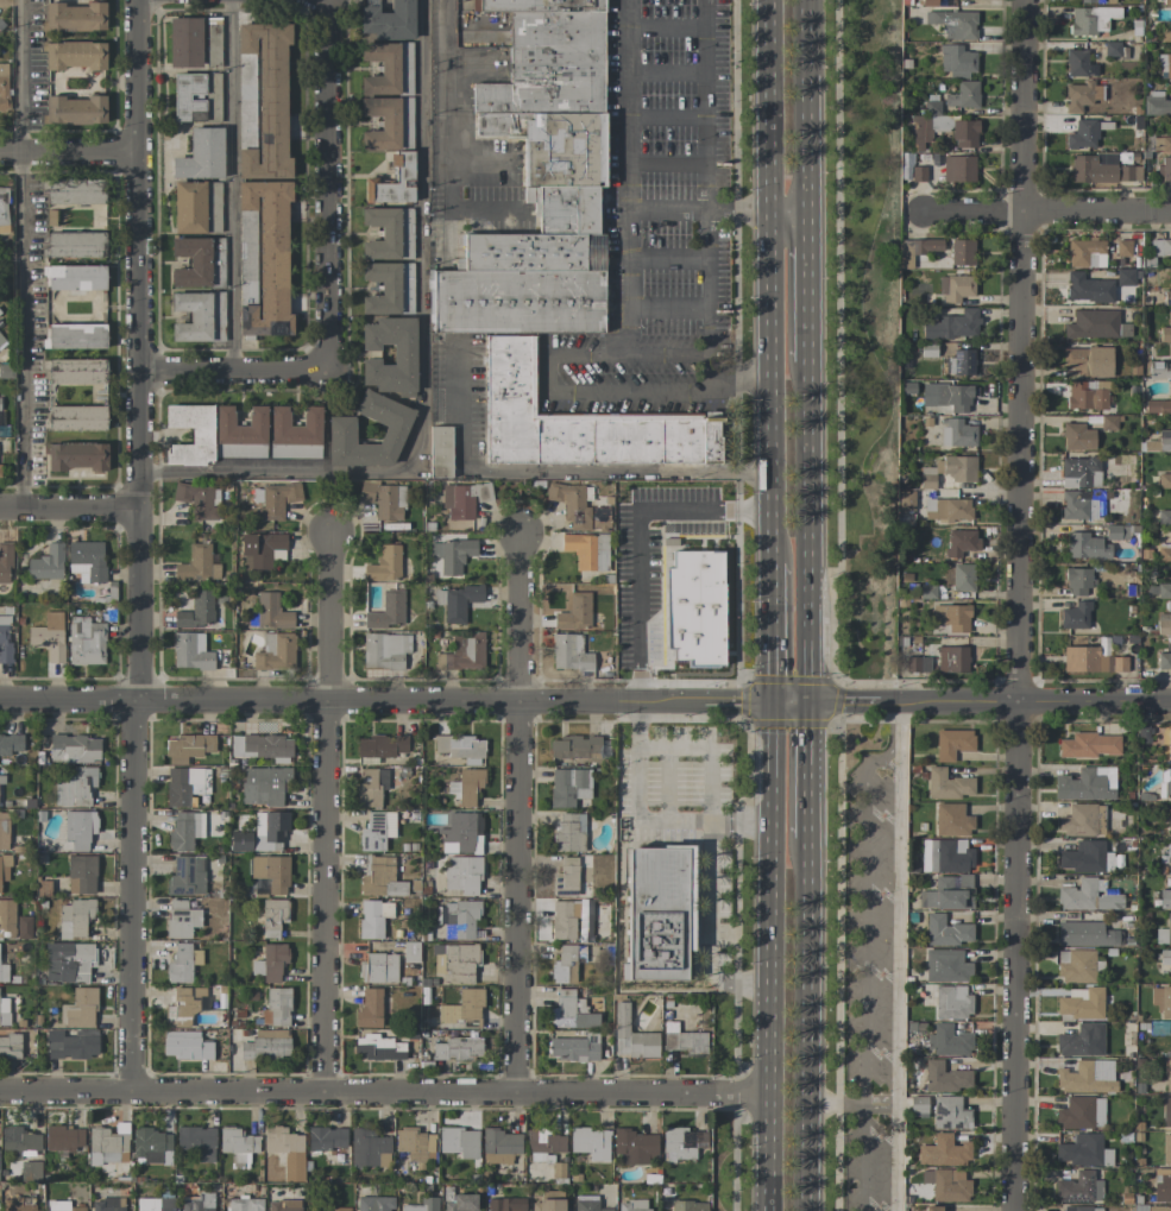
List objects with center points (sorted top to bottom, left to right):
building: (1097, 1)
building: (1166, 1)
building: (928, 2)
building: (73, 17)
building: (1091, 19)
building: (445, 20)
building: (386, 21)
building: (953, 24)
building: (1166, 34)
building: (182, 42)
building: (73, 55)
building: (956, 59)
building: (1078, 63)
building: (1165, 65)
building: (388, 69)
building: (4, 87)
building: (963, 95)
building: (1081, 95)
building: (187, 97)
building: (212, 97)
building: (262, 101)
building: (1156, 103)
road: (769, 106)
road: (808, 107)
building: (74, 111)
building: (388, 122)
building: (925, 125)
building: (964, 133)
building: (1082, 135)
road: (706, 138)
road: (445, 143)
building: (1161, 144)
road: (68, 151)
building: (200, 156)
building: (403, 164)
building: (1096, 166)
building: (958, 169)
building: (1164, 169)
building: (1128, 174)
road: (625, 178)
building: (539, 183)
road: (328, 184)
road: (232, 185)
building: (74, 191)
building: (188, 207)
building: (4, 210)
road: (1046, 210)
road: (789, 213)
building: (386, 233)
building: (75, 245)
building: (1123, 247)
building: (1160, 247)
building: (917, 250)
building: (962, 252)
road: (19, 253)
building: (1085, 253)
building: (267, 257)
building: (246, 259)
building: (197, 263)
building: (74, 277)
building: (1125, 277)
road: (707, 284)
building: (955, 288)
building: (1088, 288)
building: (388, 289)
road: (808, 289)
building: (199, 316)
building: (1095, 324)
building: (953, 326)
park: (870, 333)
building: (76, 336)
building: (1, 339)
road: (138, 349)
building: (403, 353)
road: (667, 357)
building: (961, 361)
building: (1088, 361)
road: (423, 368)
building: (1159, 370)
road: (234, 371)
building: (75, 372)
road: (726, 381)
road: (770, 387)
road: (574, 393)
building: (1087, 395)
building: (947, 396)
building: (1158, 406)
building: (77, 417)
building: (577, 422)
building: (240, 433)
building: (956, 433)
building: (190, 434)
building: (295, 434)
building: (339, 435)
building: (1077, 437)
building: (1164, 440)
building: (439, 452)
building: (74, 456)
building: (956, 467)
road: (555, 469)
building: (1077, 471)
building: (1164, 480)
building: (199, 499)
building: (384, 499)
building: (462, 499)
building: (277, 500)
building: (905, 500)
building: (572, 503)
road: (69, 506)
building: (1076, 506)
building: (947, 509)
building: (1116, 532)
road: (808, 534)
road: (637, 537)
building: (961, 542)
building: (1087, 547)
building: (258, 549)
building: (580, 549)
building: (602, 551)
building: (451, 556)
building: (87, 561)
building: (5, 562)
building: (46, 563)
building: (196, 564)
building: (384, 564)
building: (962, 578)
building: (1078, 581)
building: (455, 601)
road: (1019, 605)
building: (694, 607)
building: (197, 611)
building: (386, 611)
building: (272, 612)
building: (574, 612)
building: (1075, 616)
road: (328, 617)
building: (952, 617)
building: (1164, 624)
road: (770, 633)
building: (48, 636)
building: (5, 639)
building: (86, 642)
building: (384, 650)
building: (190, 651)
building: (275, 651)
building: (462, 652)
building: (569, 652)
building: (952, 658)
building: (1093, 658)
building: (1164, 662)
building: (917, 664)
road: (385, 701)
road: (988, 702)
traffic signals: (772, 704)
road: (789, 704)
traffic signals: (807, 704)
road: (896, 720)
building: (952, 743)
building: (11, 744)
building: (1169, 744)
building: (1089, 745)
building: (260, 746)
building: (379, 746)
building: (458, 746)
building: (574, 746)
building: (188, 748)
building: (73, 749)
road: (807, 770)
building: (1167, 782)
building: (947, 784)
building: (1087, 784)
building: (184, 786)
building: (264, 786)
building: (466, 786)
building: (75, 787)
building: (371, 787)
building: (568, 787)
road: (517, 813)
building: (952, 820)
building: (1083, 820)
building: (1169, 820)
road: (646, 821)
building: (78, 828)
building: (269, 830)
building: (4, 831)
building: (184, 831)
building: (376, 831)
building: (569, 832)
building: (461, 833)
building: (241, 841)
building: (945, 856)
building: (1169, 856)
road: (710, 857)
building: (1088, 857)
building: (271, 872)
building: (81, 875)
building: (462, 875)
building: (571, 875)
building: (185, 876)
building: (380, 878)
building: (947, 893)
road: (134, 895)
road: (326, 896)
building: (1088, 896)
building: (1164, 898)
building: (659, 914)
building: (272, 916)
building: (74, 917)
building: (458, 917)
building: (7, 919)
building: (181, 919)
building: (372, 919)
building: (569, 919)
building: (23, 927)
building: (1169, 928)
building: (946, 931)
building: (1087, 934)
road: (768, 957)
building: (1165, 957)
building: (68, 961)
building: (182, 963)
building: (270, 963)
building: (564, 965)
road: (862, 966)
building: (946, 966)
building: (1076, 966)
building: (378, 969)
building: (4, 972)
road: (895, 973)
parking lot: (875, 984)
building: (1161, 999)
building: (952, 1002)
building: (185, 1003)
building: (1081, 1003)
building: (462, 1007)
building: (276, 1008)
building: (78, 1009)
building: (369, 1009)
building: (571, 1010)
building: (4, 1011)
road: (807, 1023)
building: (631, 1036)
building: (684, 1040)
building: (947, 1041)
building: (1082, 1041)
building: (70, 1043)
building: (266, 1045)
building: (184, 1046)
building: (10, 1047)
building: (378, 1048)
building: (455, 1048)
building: (574, 1048)
building: (1167, 1074)
building: (945, 1077)
building: (1087, 1077)
road: (384, 1091)
road: (851, 1103)
building: (918, 1105)
building: (950, 1112)
building: (1166, 1112)
building: (1082, 1114)
building: (63, 1137)
building: (326, 1139)
building: (19, 1141)
building: (196, 1142)
building: (459, 1142)
building: (590, 1142)
building: (682, 1143)
building: (108, 1144)
building: (414, 1144)
building: (543, 1144)
building: (152, 1146)
building: (499, 1146)
building: (635, 1147)
building: (369, 1148)
building: (1166, 1148)
building: (285, 1150)
building: (943, 1150)
building: (1083, 1150)
building: (29, 1171)
building: (946, 1185)
building: (1161, 1186)
building: (1078, 1188)
building: (460, 1201)
building: (549, 1201)
building: (197, 1203)
building: (586, 1203)
building: (19, 1204)
building: (155, 1204)
building: (244, 1204)
building: (373, 1204)
building: (505, 1204)
building: (108, 1205)
building: (283, 1205)
building: (421, 1205)
building: (632, 1205)
building: (688, 1205)
building: (62, 1206)
building: (1159, 1207)
building: (341, 1209)
building: (931, 1209)
building: (1082, 1209)

